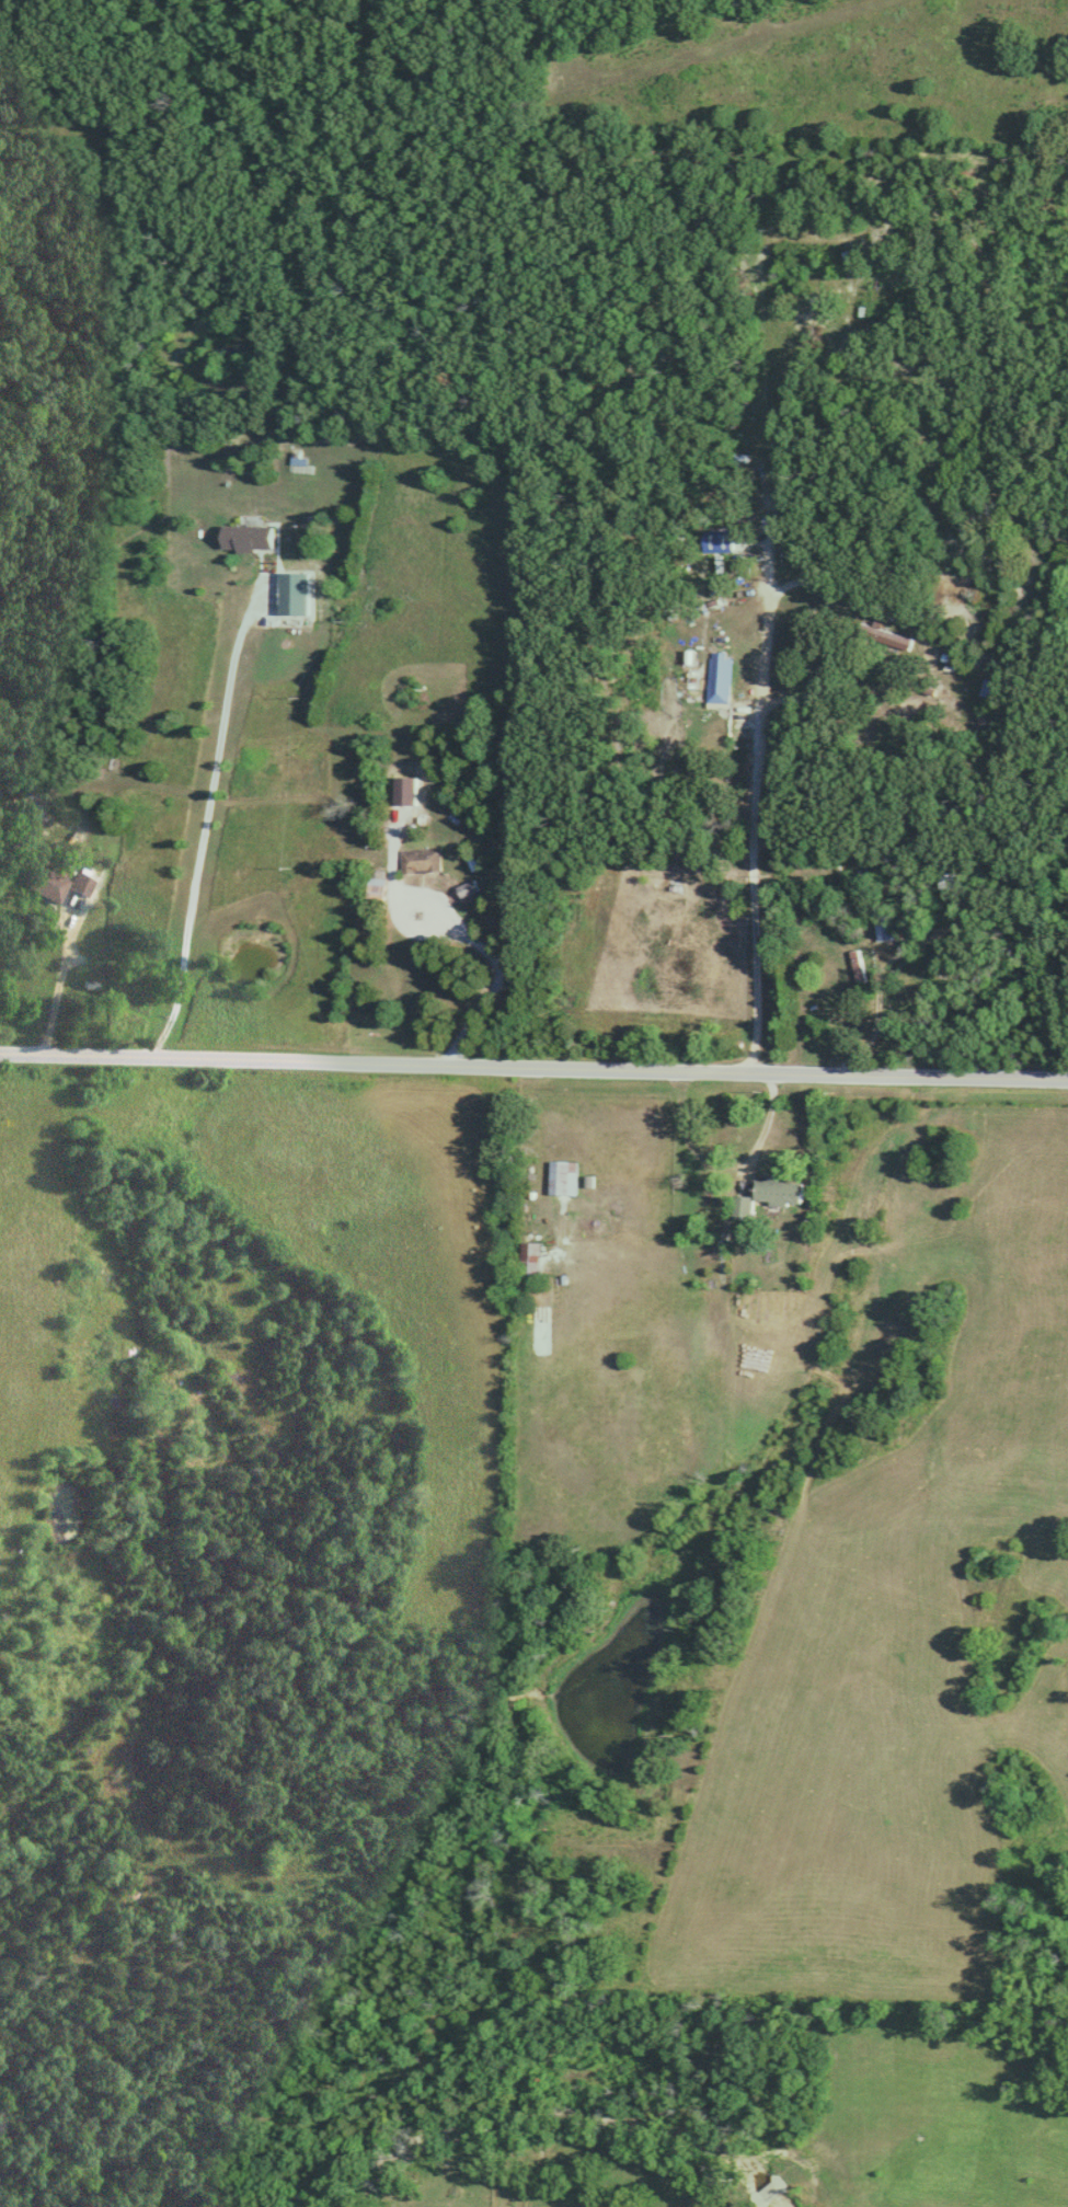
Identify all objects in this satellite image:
airport runway: (701, 42)
building: (244, 538)
road: (823, 581)
building: (883, 635)
road: (765, 668)
building: (717, 677)
building: (985, 688)
building: (27, 818)
road: (203, 824)
building: (418, 860)
building: (45, 882)
building: (79, 886)
building: (374, 889)
building: (466, 890)
road: (460, 923)
building: (885, 930)
building: (858, 970)
road: (60, 981)
road: (876, 1014)
road: (533, 1062)
road: (765, 1124)
building: (562, 1177)
building: (766, 1195)
building: (528, 1257)

